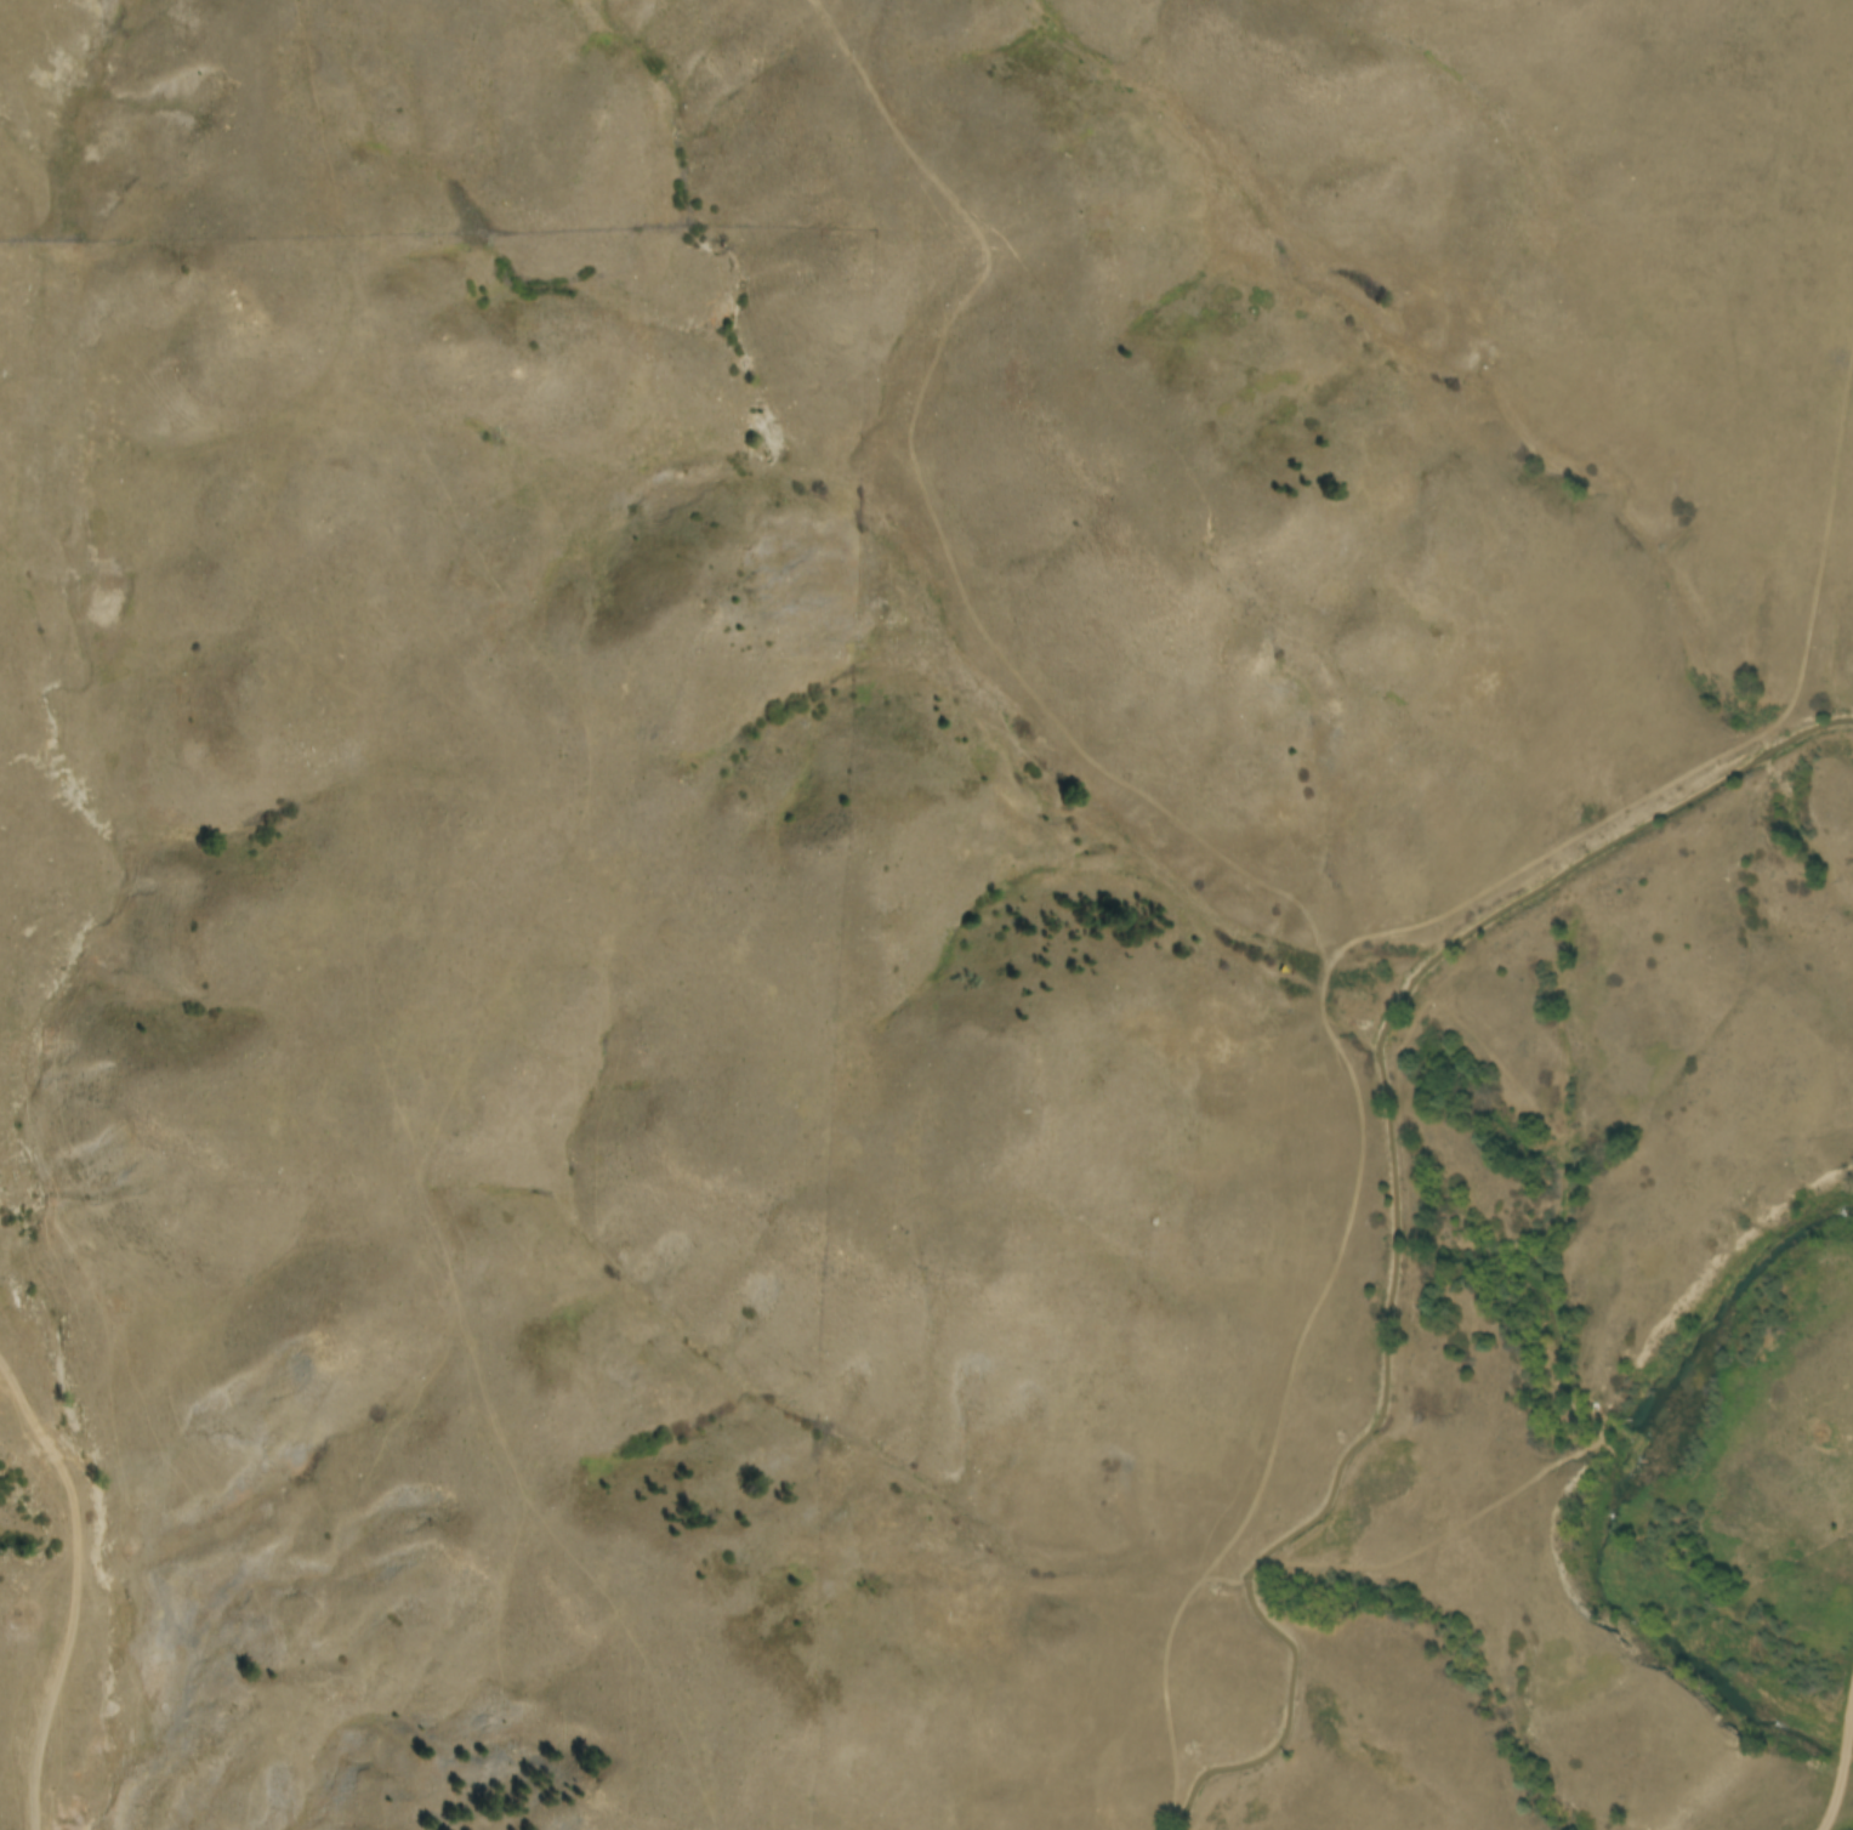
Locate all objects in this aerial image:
road: (1845, 1781)

